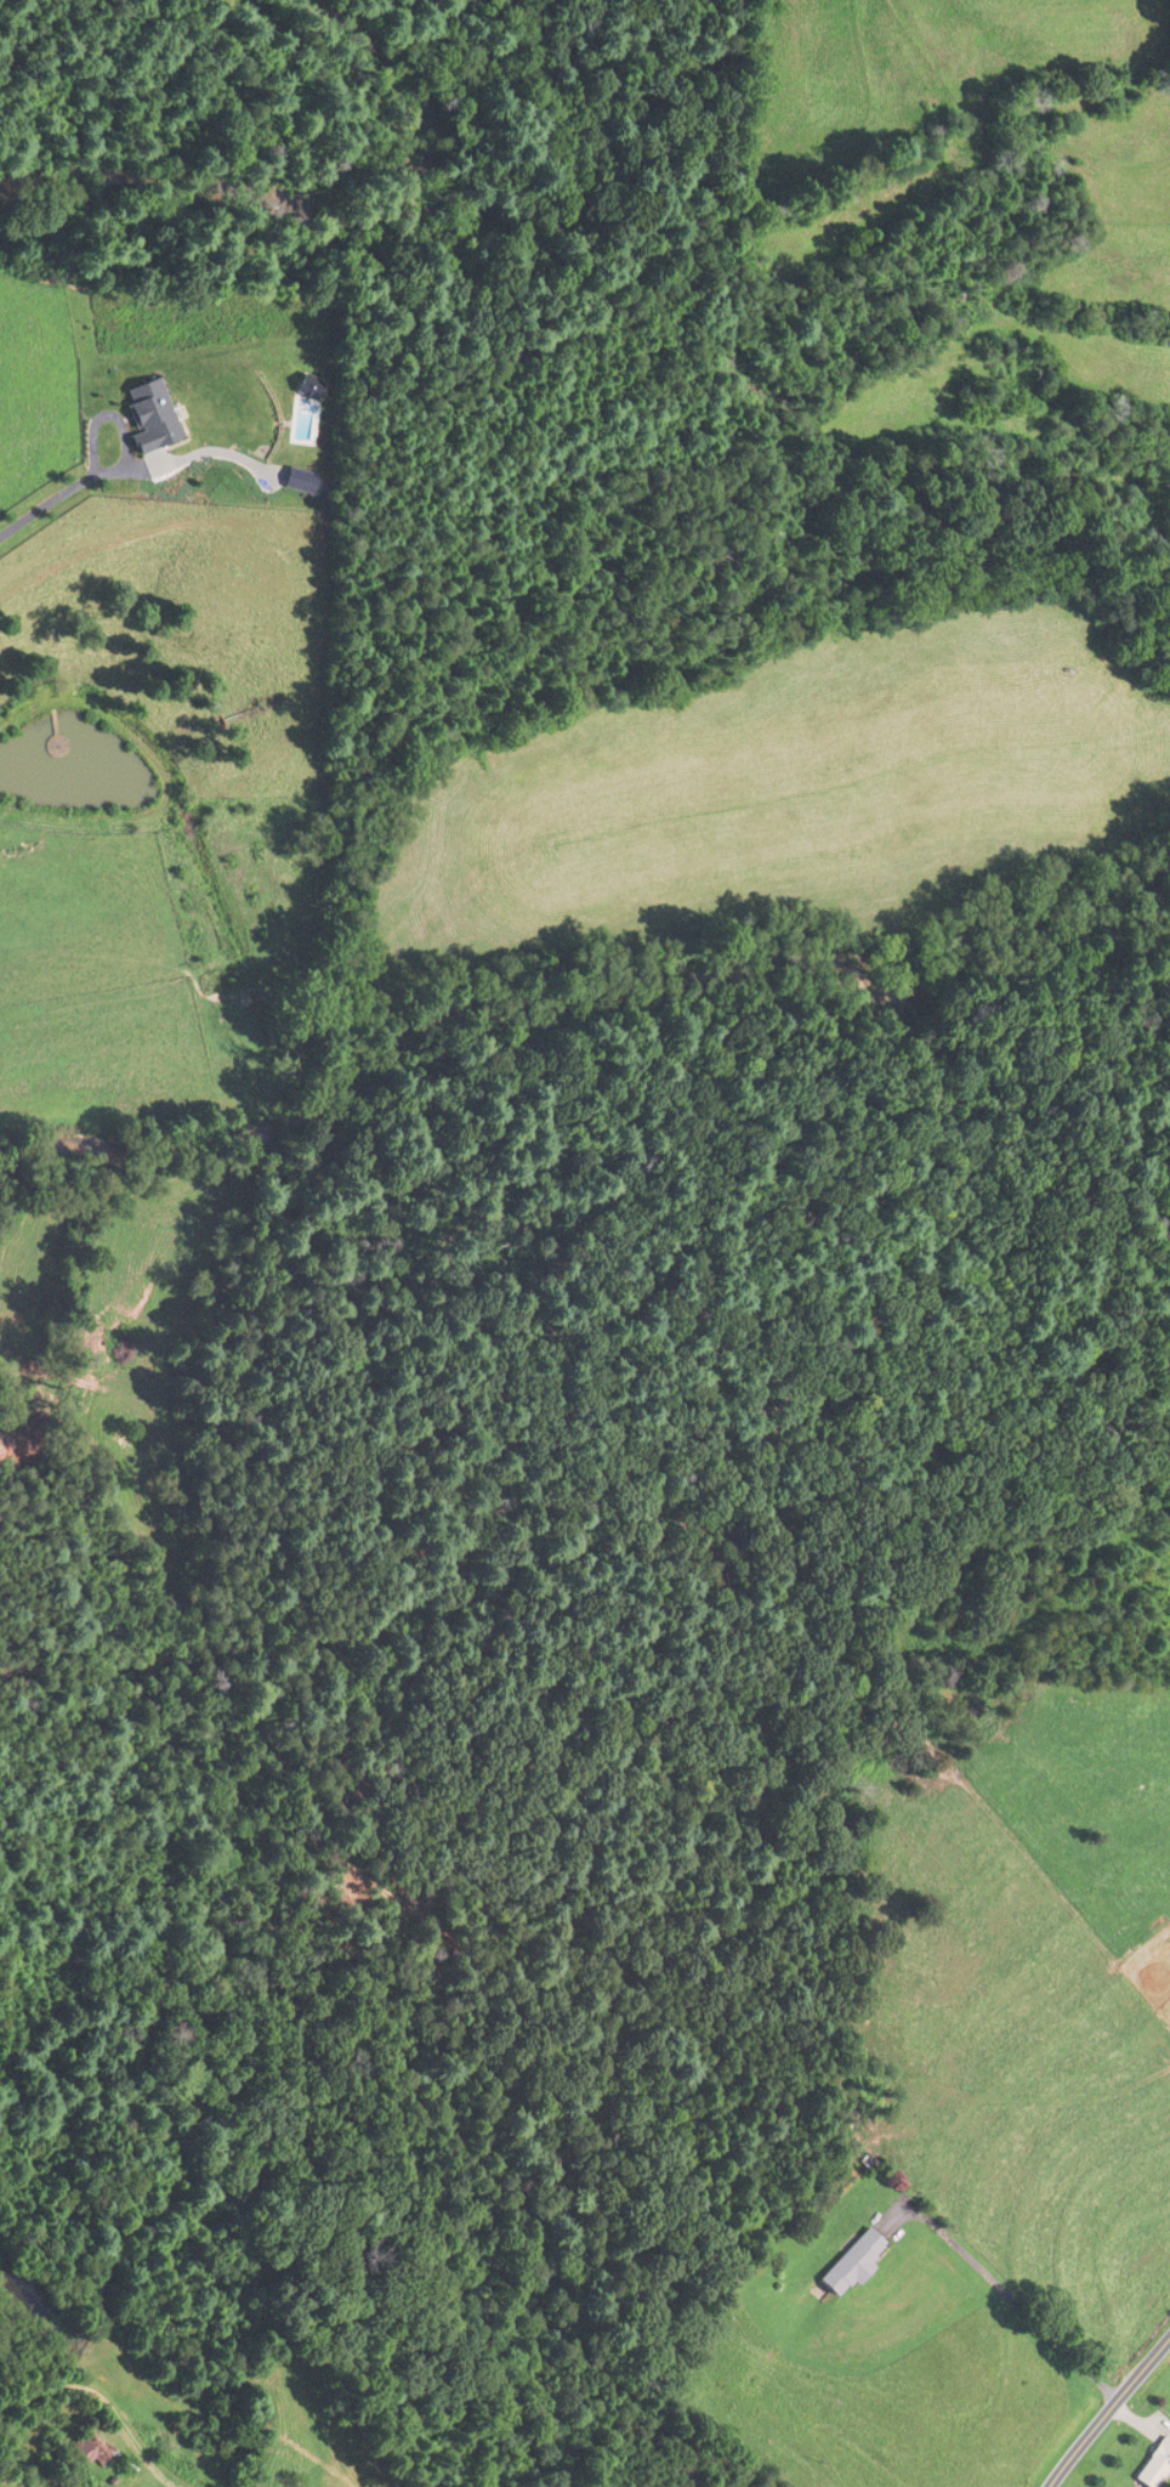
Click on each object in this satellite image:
river: (309, 210)
building: (272, 430)
road: (182, 457)
road: (58, 493)
river: (615, 981)
river: (44, 1183)
building: (851, 2264)
road: (1006, 2294)
road: (617, 2340)
road: (1106, 2408)
road: (104, 2412)
building: (92, 2449)

